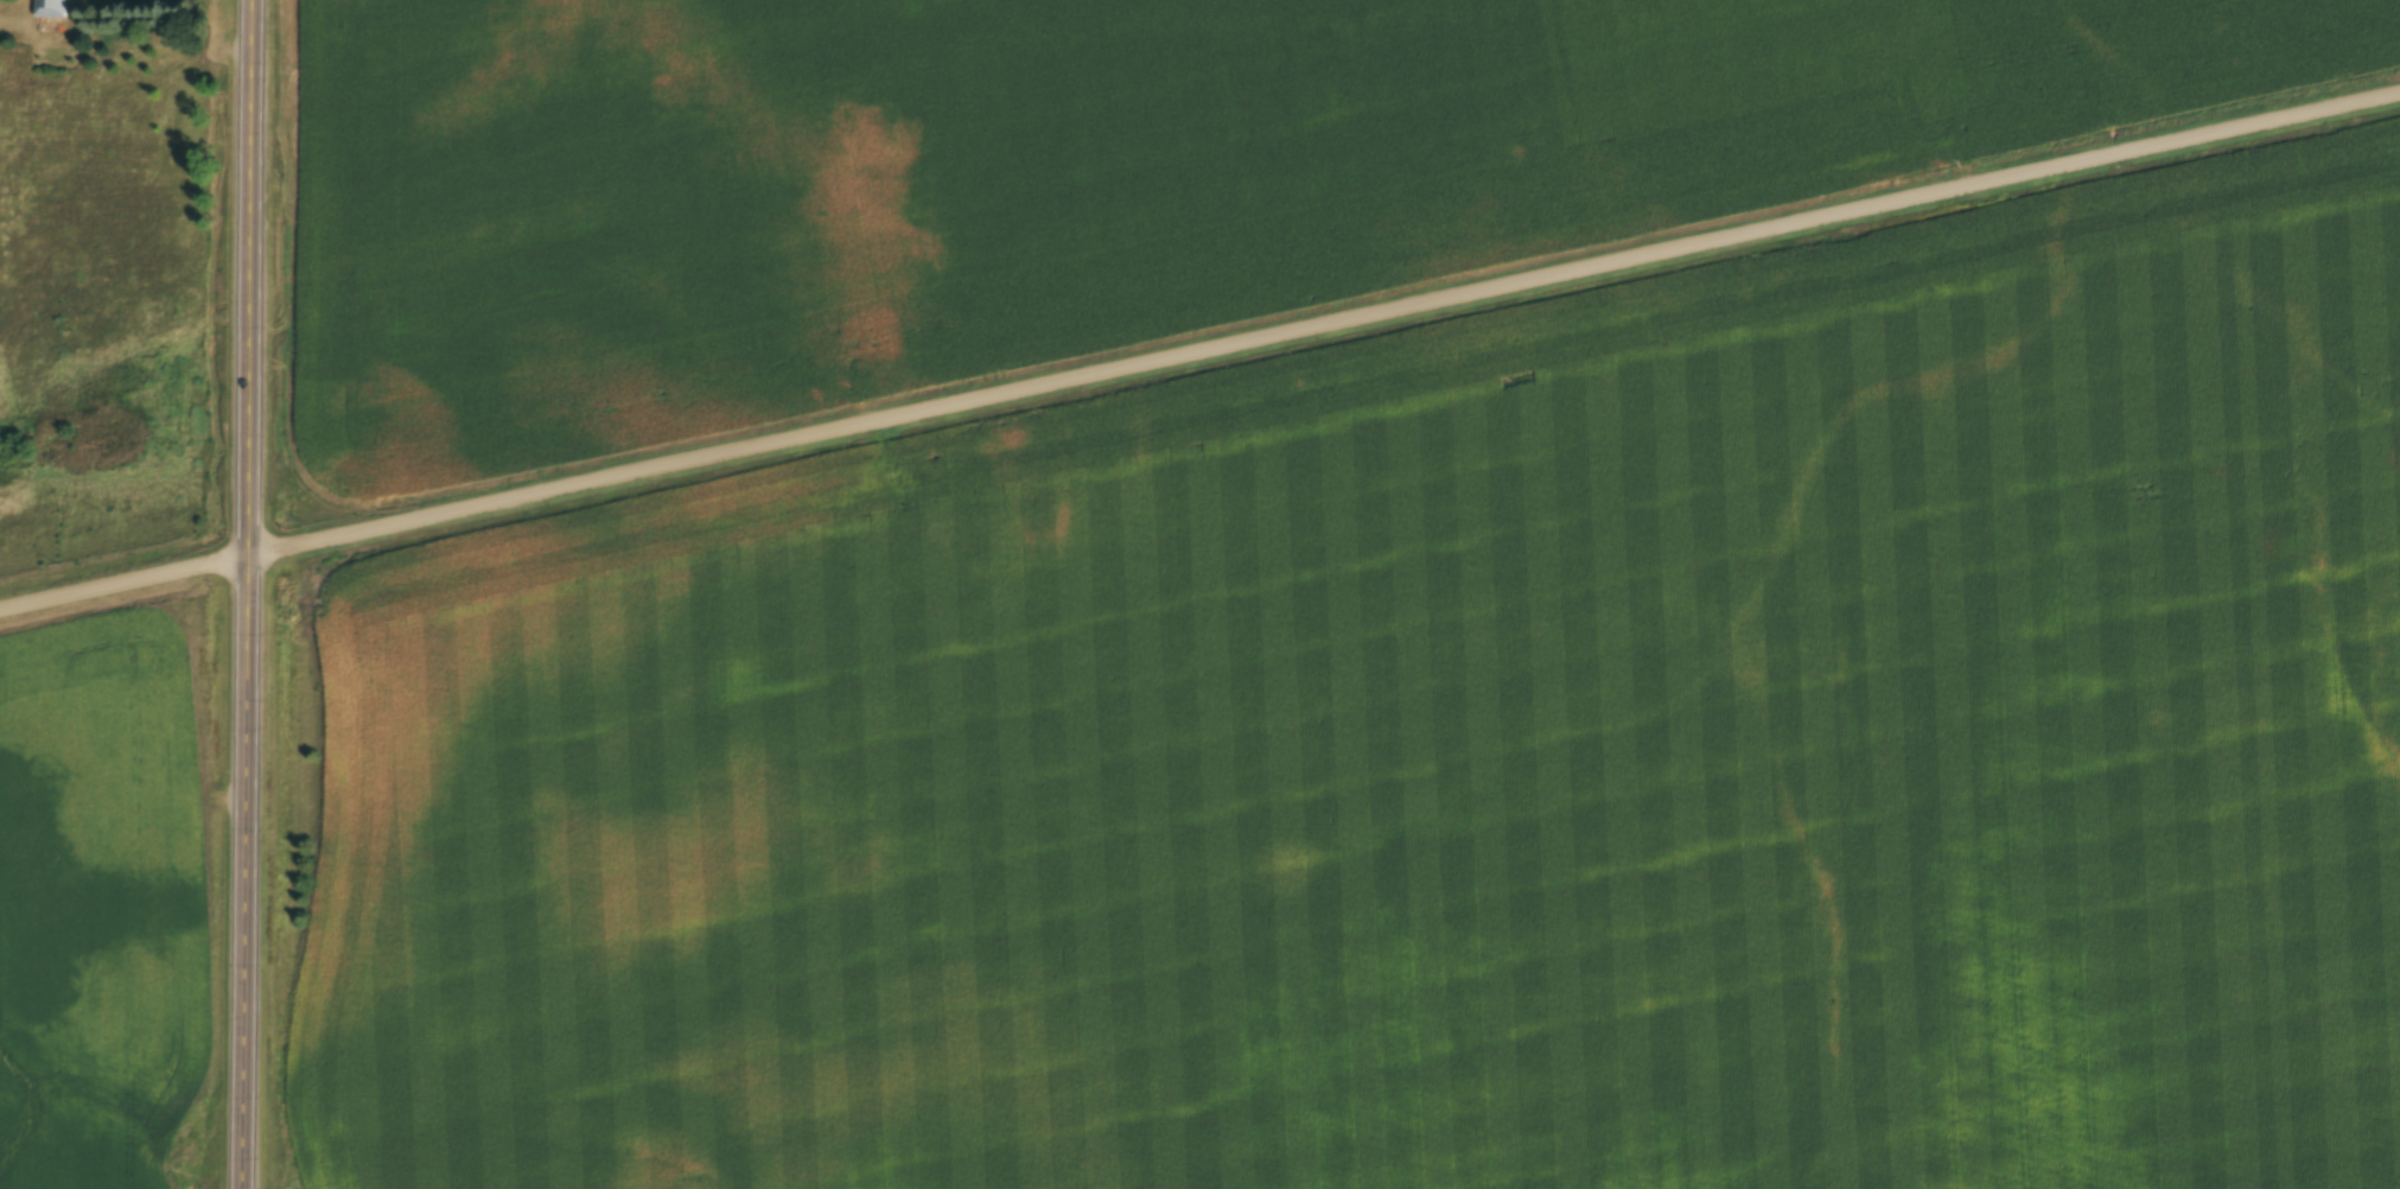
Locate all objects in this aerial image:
building: (50, 8)
road: (1199, 356)
road: (246, 593)

